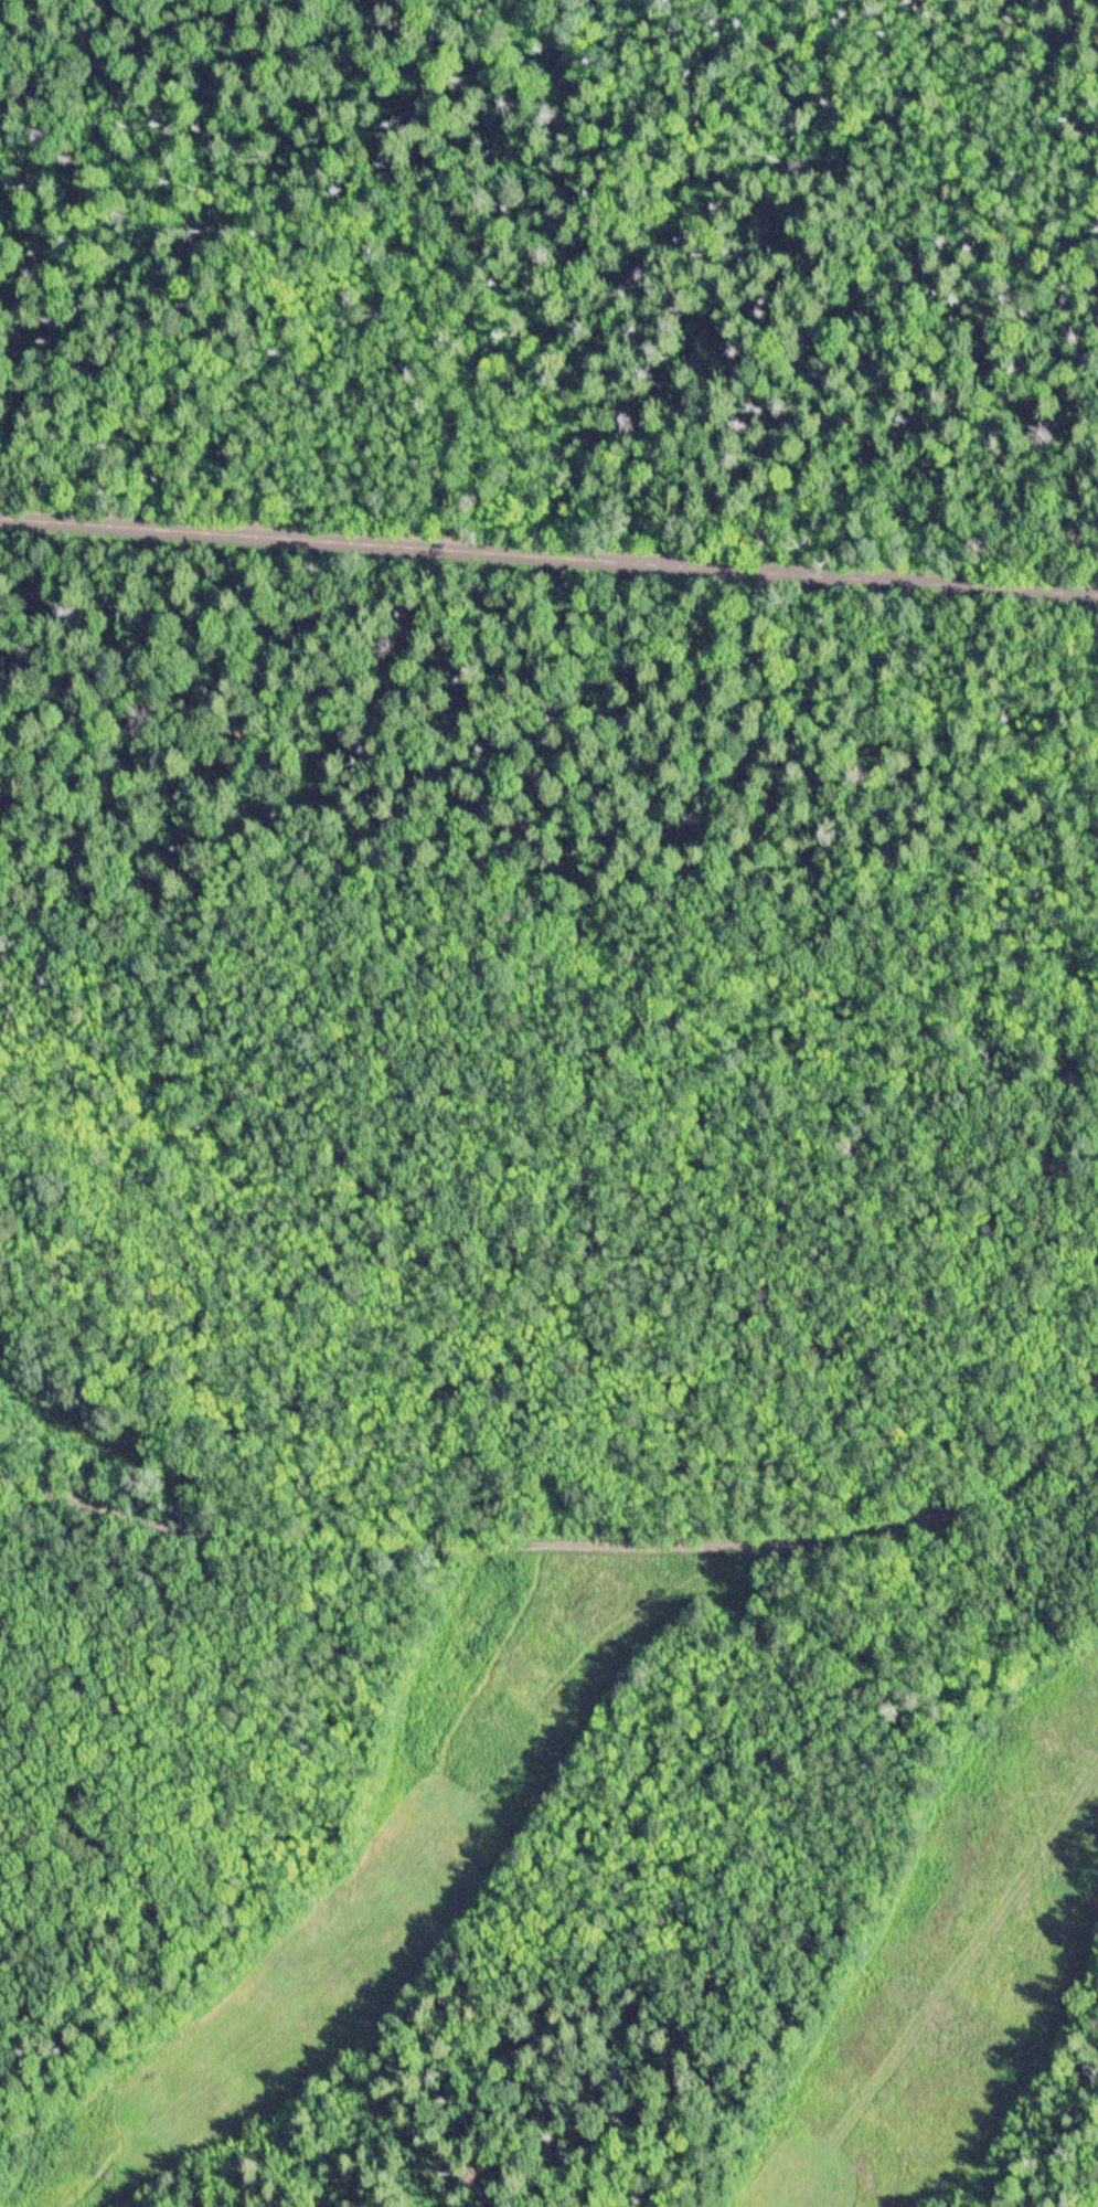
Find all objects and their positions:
road: (548, 554)
road: (503, 951)
road: (556, 1539)

